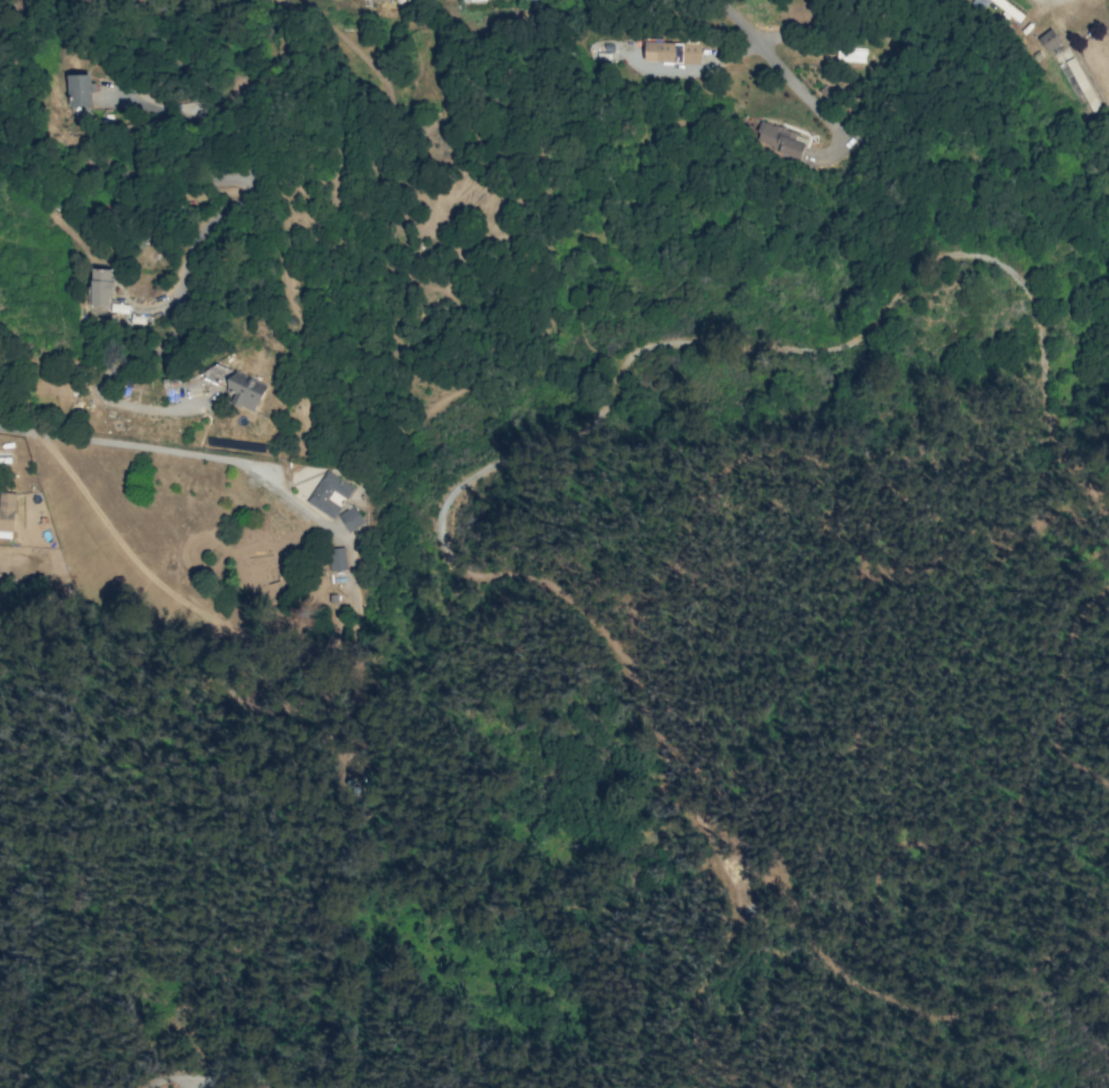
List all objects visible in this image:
building: (471, 0)
building: (1000, 8)
building: (1049, 39)
building: (659, 50)
building: (691, 53)
building: (850, 54)
road: (779, 66)
building: (80, 89)
building: (780, 139)
building: (101, 286)
building: (237, 385)
road: (180, 456)
building: (329, 492)
building: (7, 514)
building: (351, 518)
building: (337, 558)

